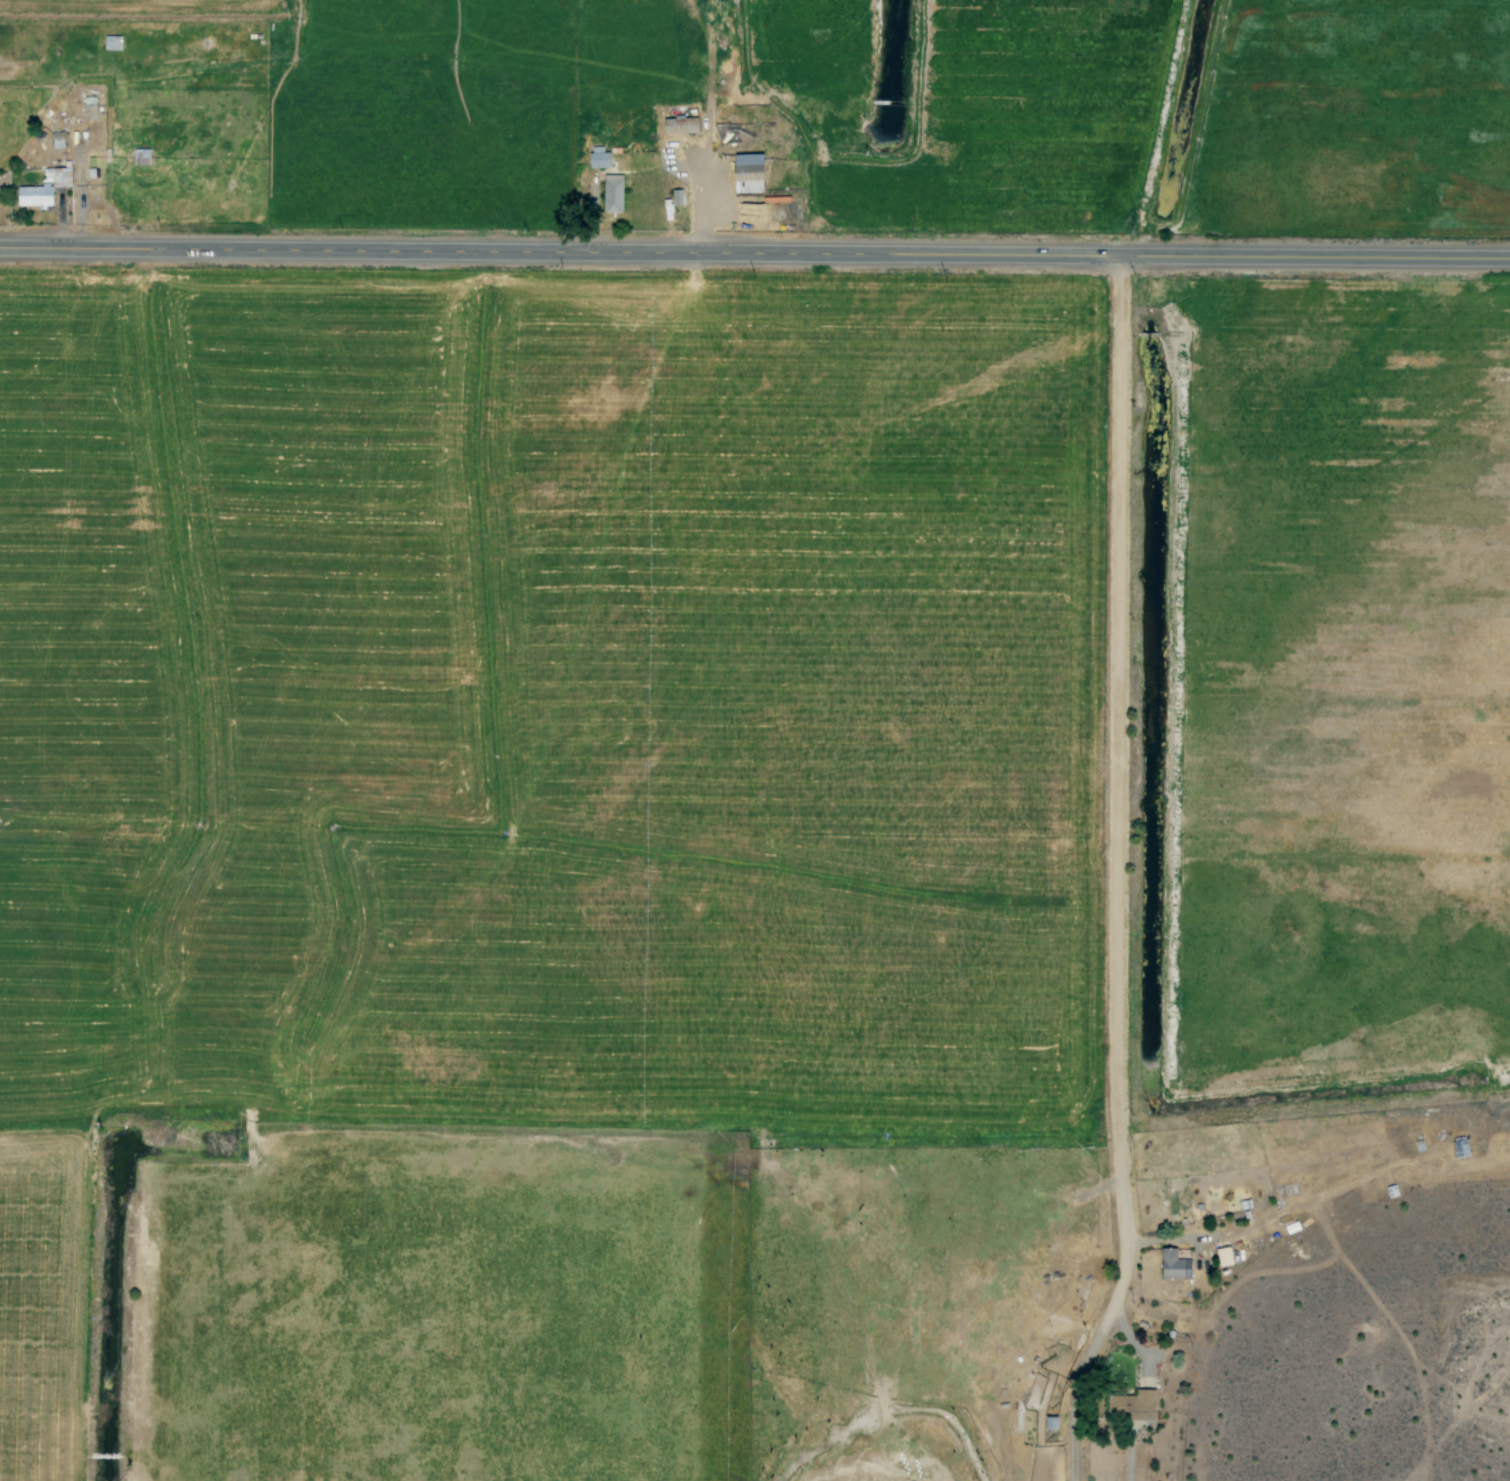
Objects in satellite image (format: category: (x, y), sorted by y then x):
wastewater plant: (886, 57)
wastewater plant: (1173, 89)
building: (87, 108)
building: (678, 125)
building: (596, 157)
building: (745, 173)
building: (42, 188)
building: (611, 193)
building: (671, 205)
road: (64, 247)
road: (819, 251)
wastewater plant: (1140, 694)
road: (1116, 871)
wastewater plant: (195, 1113)
building: (1223, 1256)
building: (1172, 1265)
wastewater plant: (106, 1293)
building: (1130, 1406)

